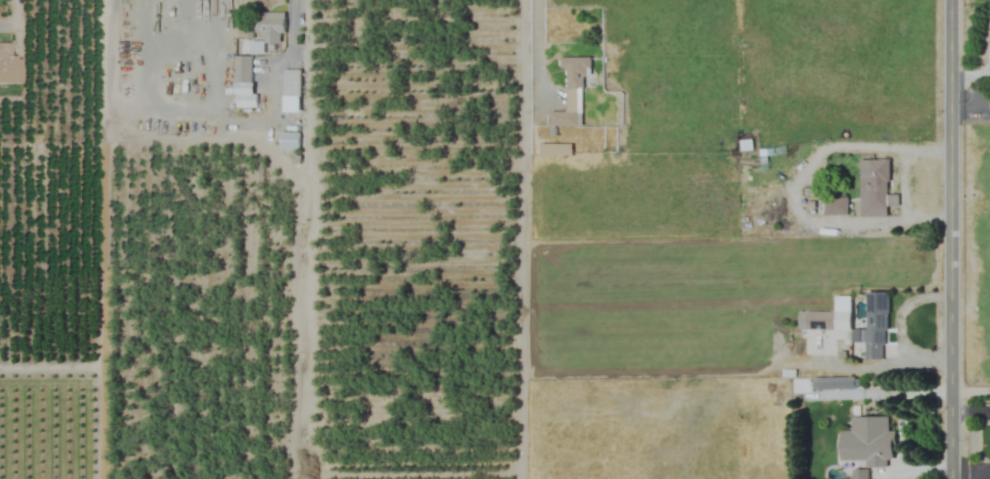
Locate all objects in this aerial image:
building: (270, 30)
road: (289, 41)
road: (536, 48)
building: (2, 55)
building: (243, 81)
building: (291, 82)
building: (570, 89)
building: (288, 140)
building: (554, 149)
building: (872, 187)
building: (835, 206)
road: (951, 239)
building: (815, 319)
building: (874, 326)
building: (833, 382)
building: (867, 441)
road: (972, 468)

